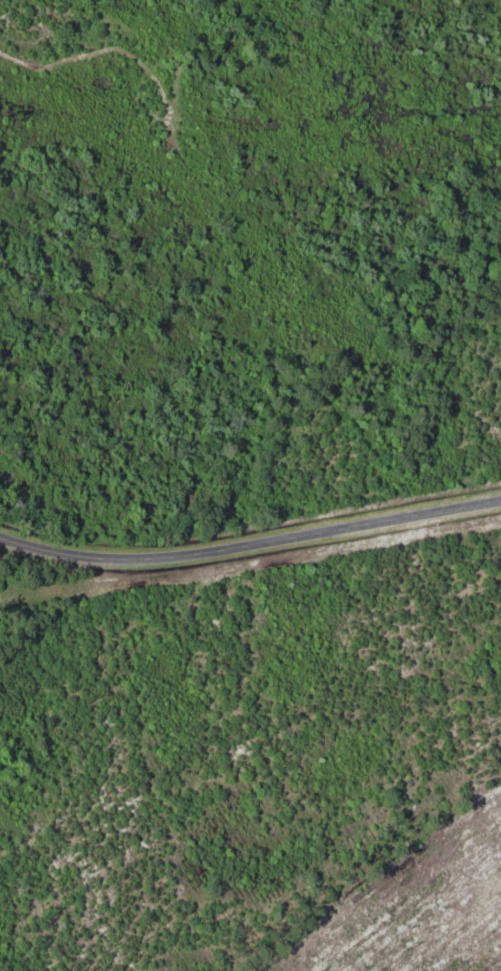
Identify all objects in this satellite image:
road: (250, 543)

